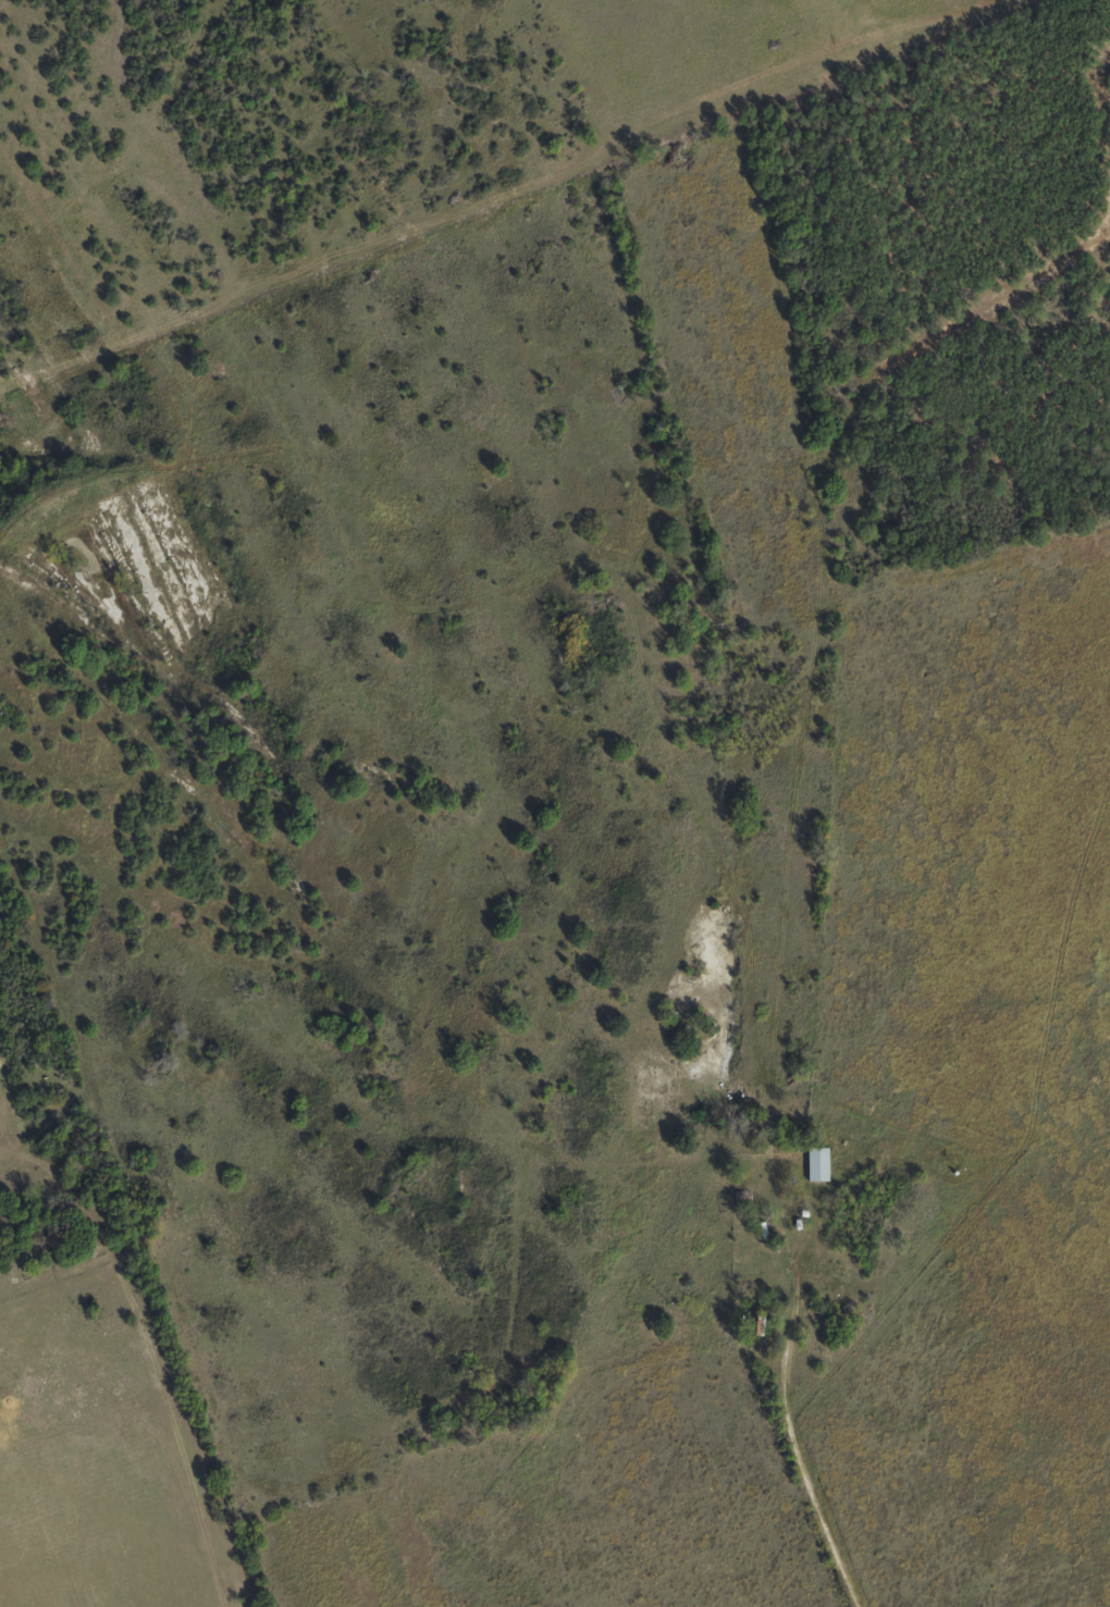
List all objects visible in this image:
building: (814, 1164)
building: (753, 1325)
road: (841, 1479)

